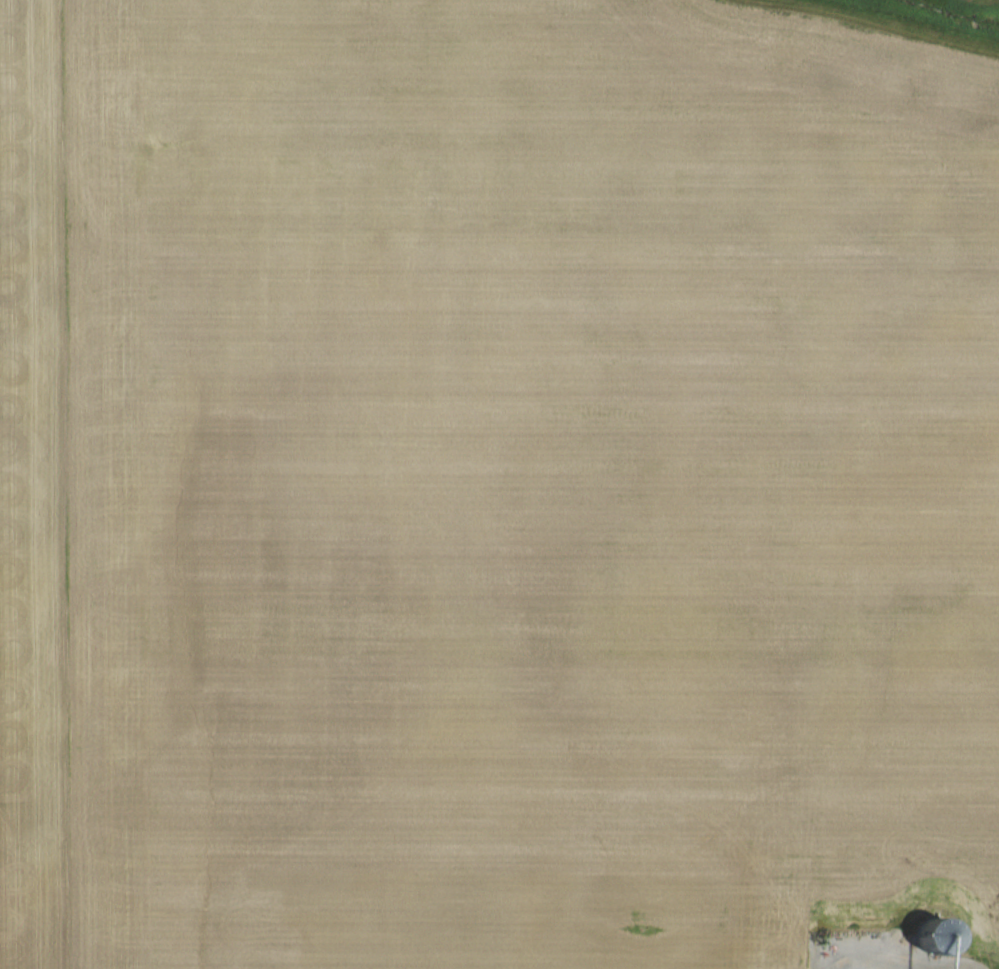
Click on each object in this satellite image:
crop: (498, 483)
building: (931, 938)

